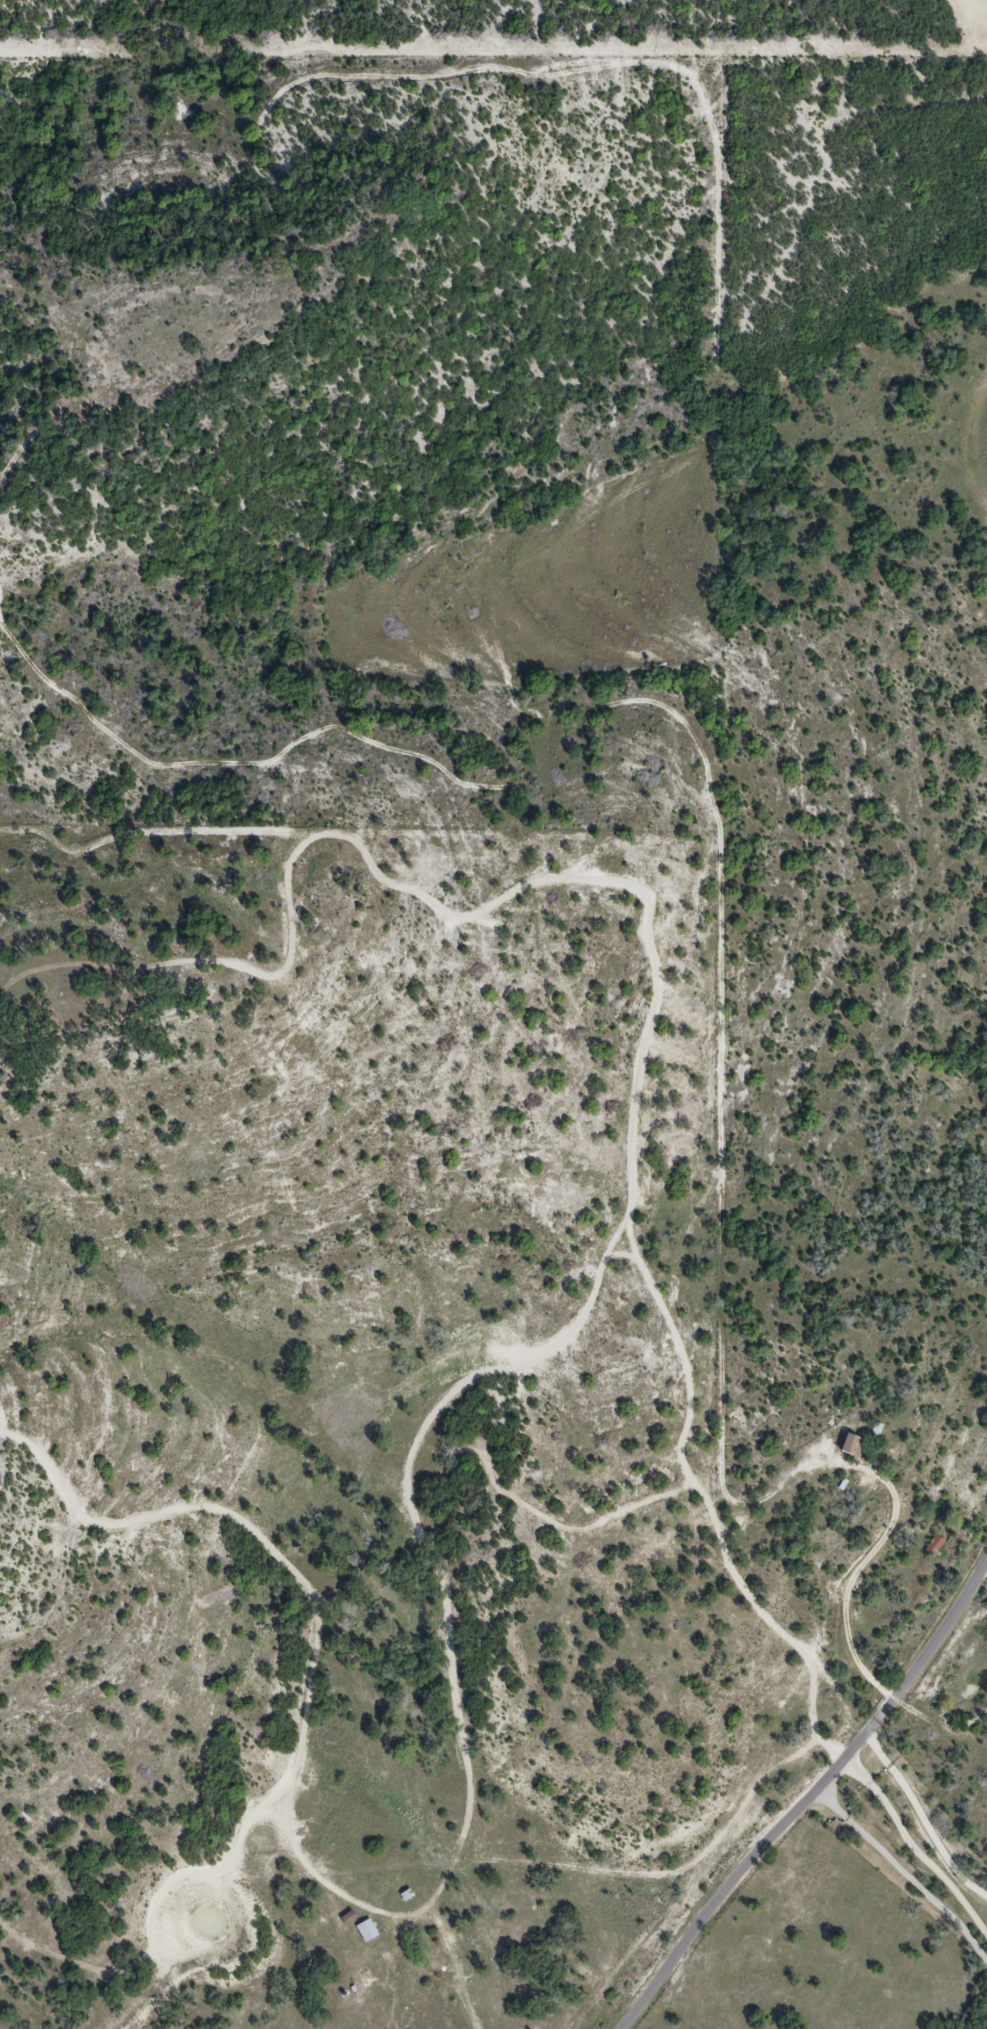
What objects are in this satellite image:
building: (853, 1446)
building: (935, 1546)
road: (856, 1574)
road: (809, 1799)
road: (925, 1814)
road: (916, 1844)
road: (906, 1869)
building: (367, 1931)
road: (737, 1990)

